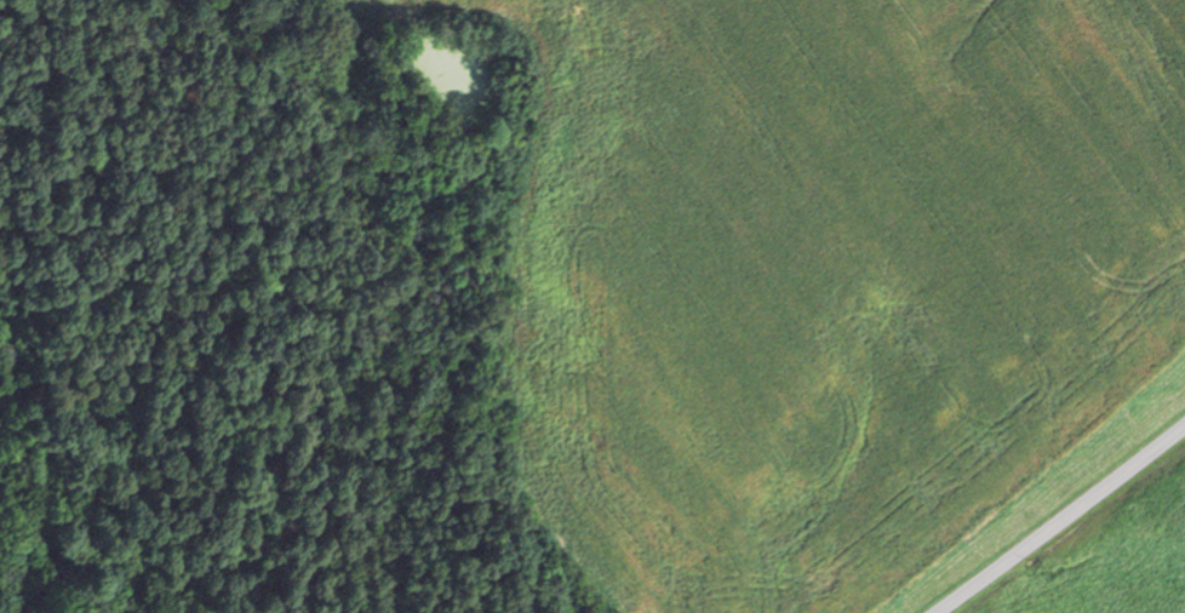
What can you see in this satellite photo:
road: (1066, 522)

